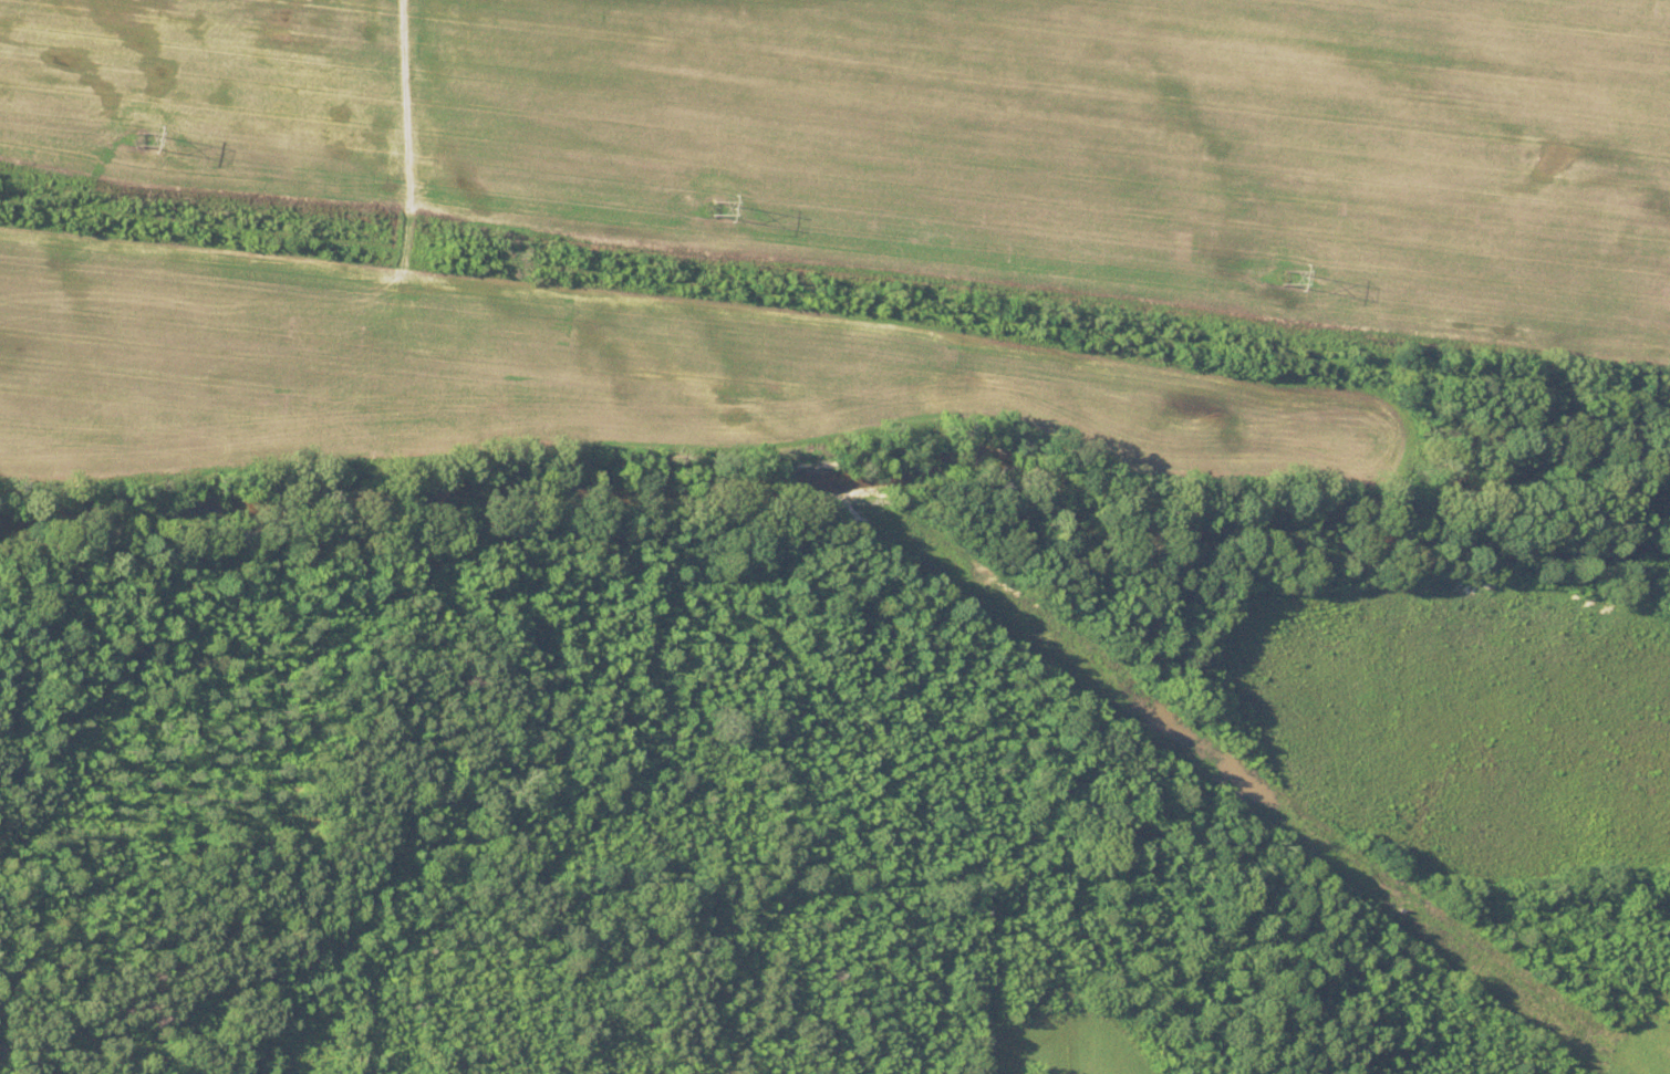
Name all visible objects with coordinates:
power tower: (136, 134)
power tower: (712, 208)
power tower: (1282, 278)
railway: (834, 299)

